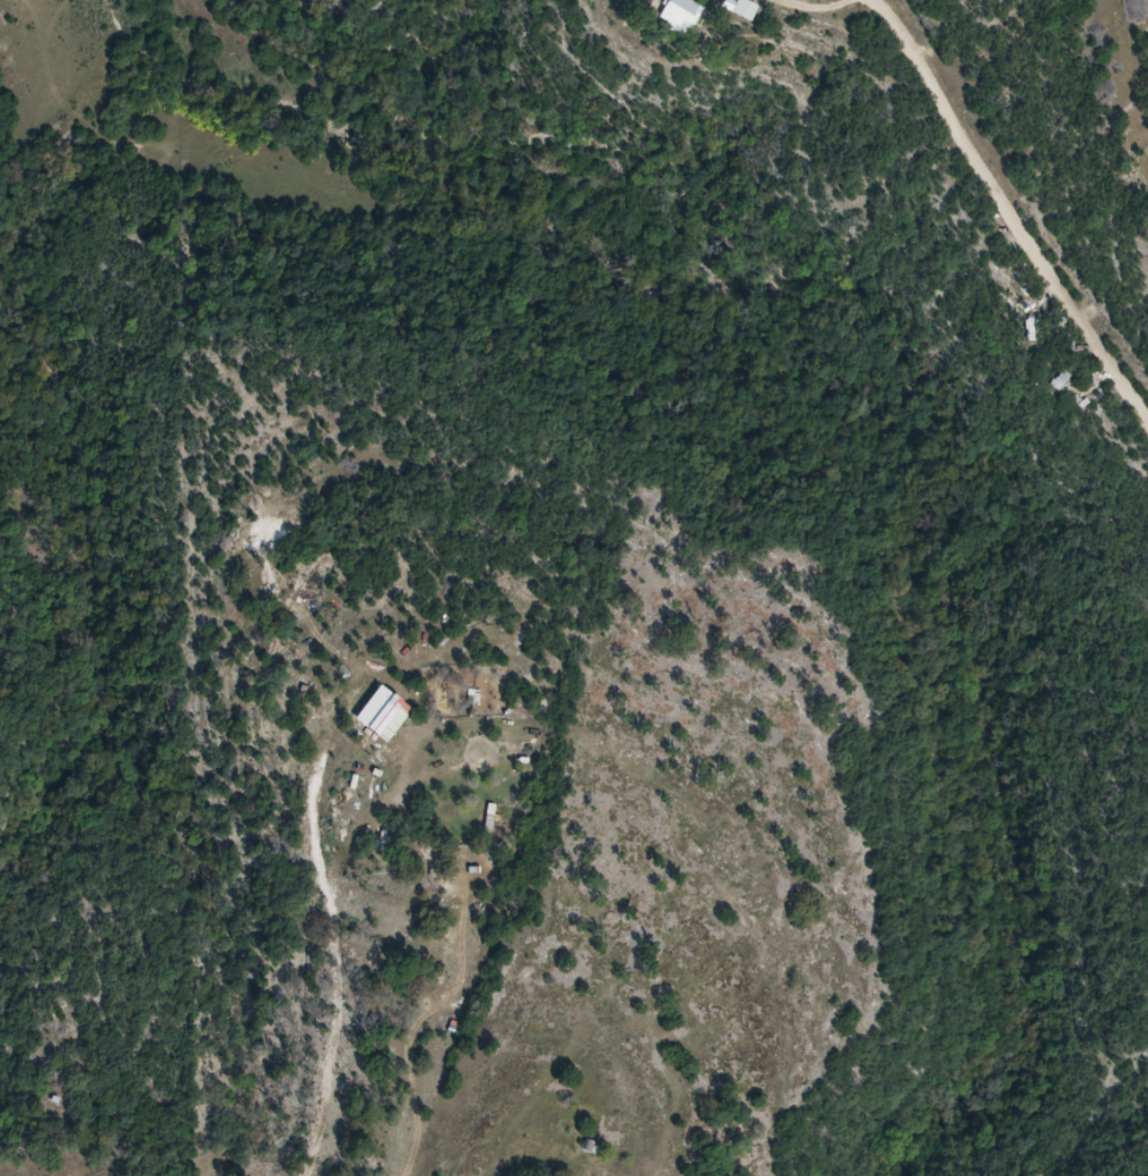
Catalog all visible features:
building: (744, 8)
building: (683, 14)
road: (1009, 205)
building: (592, 1149)

